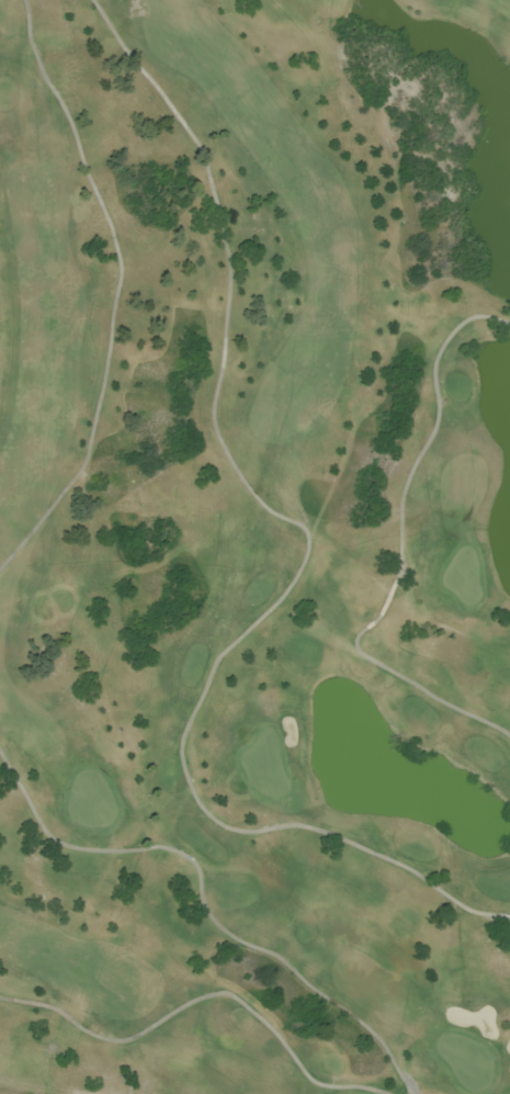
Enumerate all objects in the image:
park: (254, 546)

